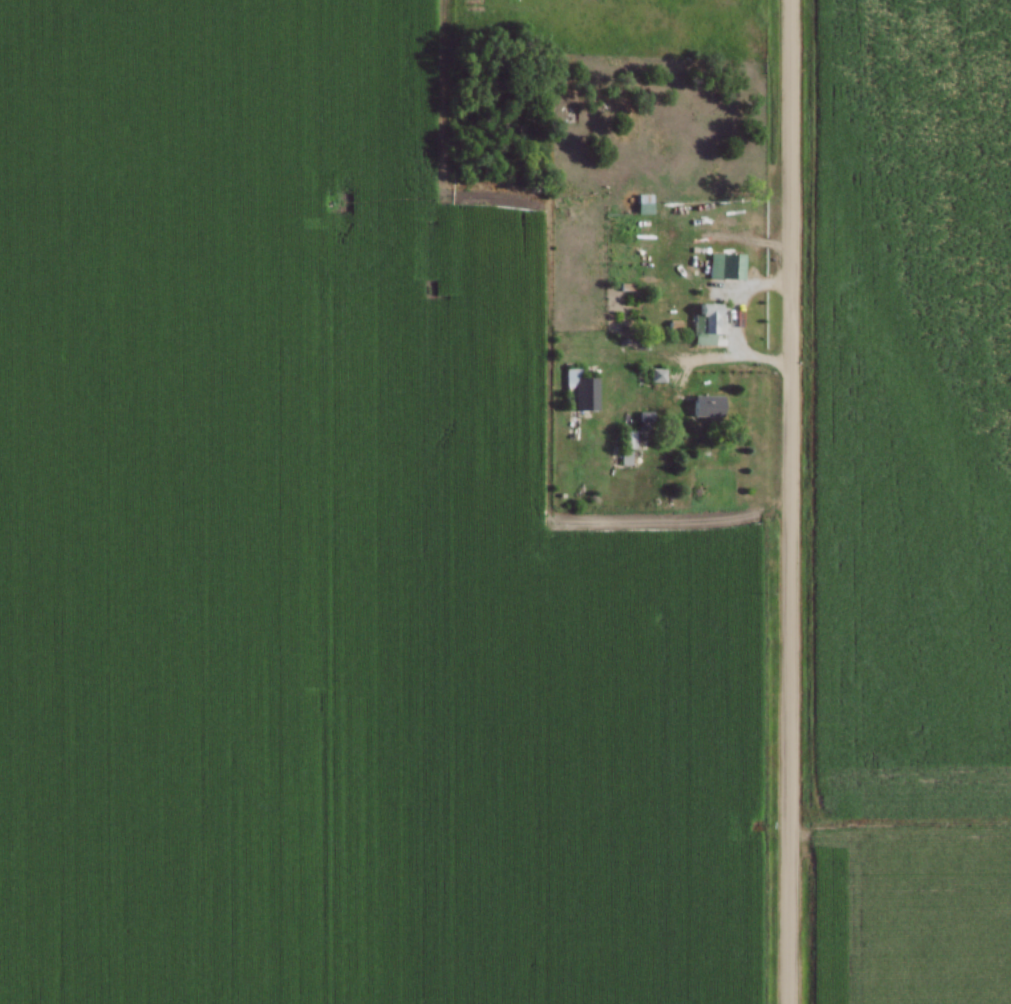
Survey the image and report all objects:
building: (643, 199)
building: (732, 266)
building: (680, 272)
road: (735, 300)
building: (707, 322)
building: (599, 337)
road: (693, 355)
building: (657, 375)
building: (642, 376)
building: (579, 392)
building: (707, 403)
building: (628, 439)
building: (625, 458)
road: (790, 501)
crop: (910, 503)
crop: (328, 559)

